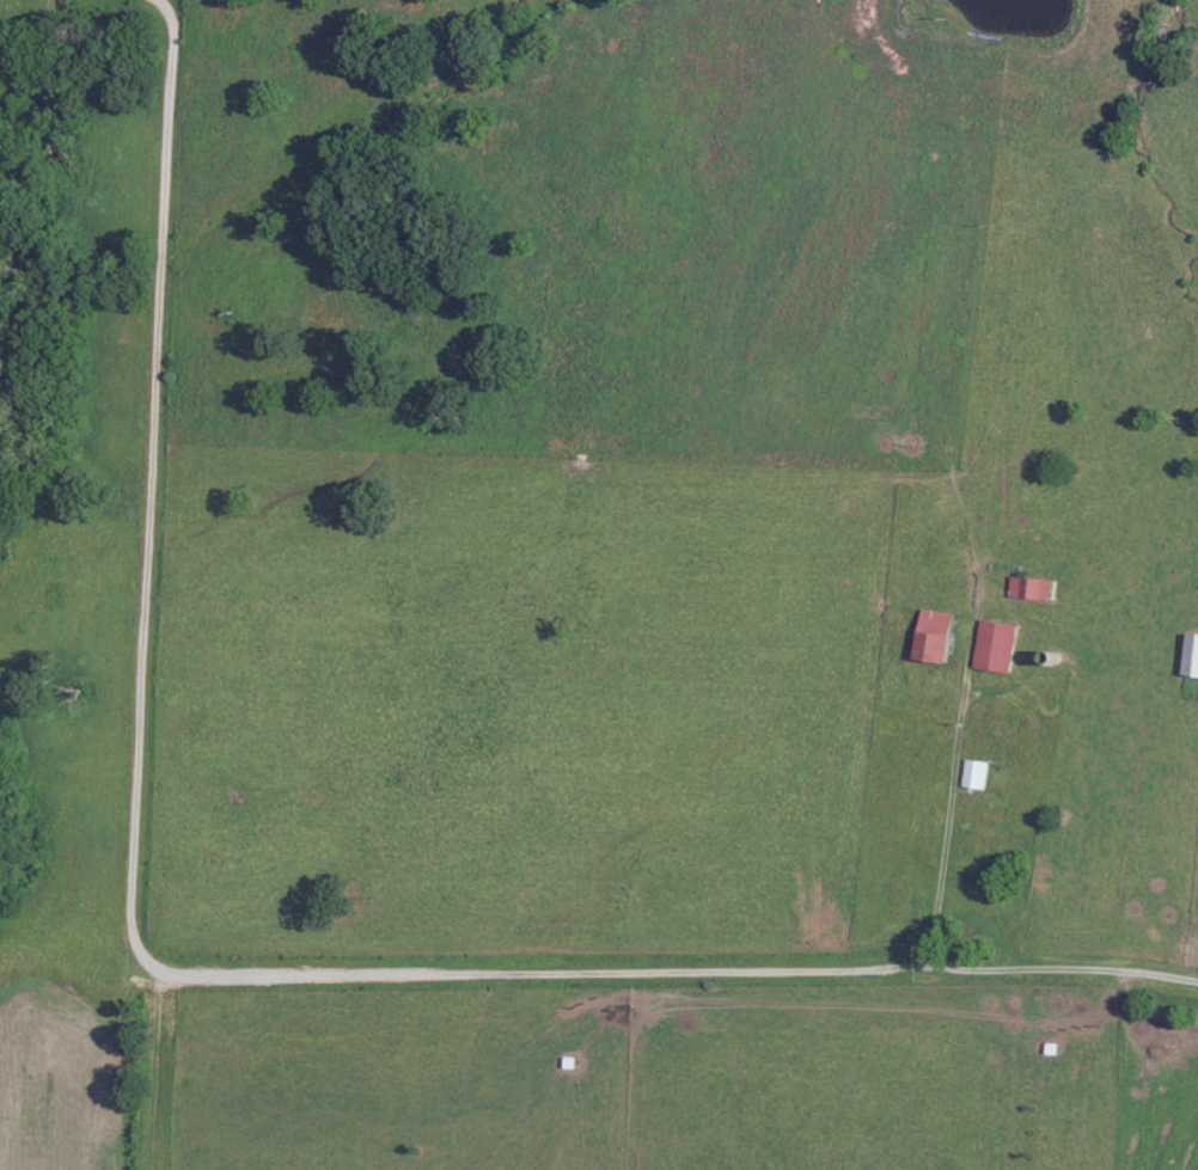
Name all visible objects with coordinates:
building: (1037, 589)
building: (940, 637)
building: (1001, 648)
building: (1193, 656)
building: (980, 777)
road: (1072, 961)
road: (190, 978)

